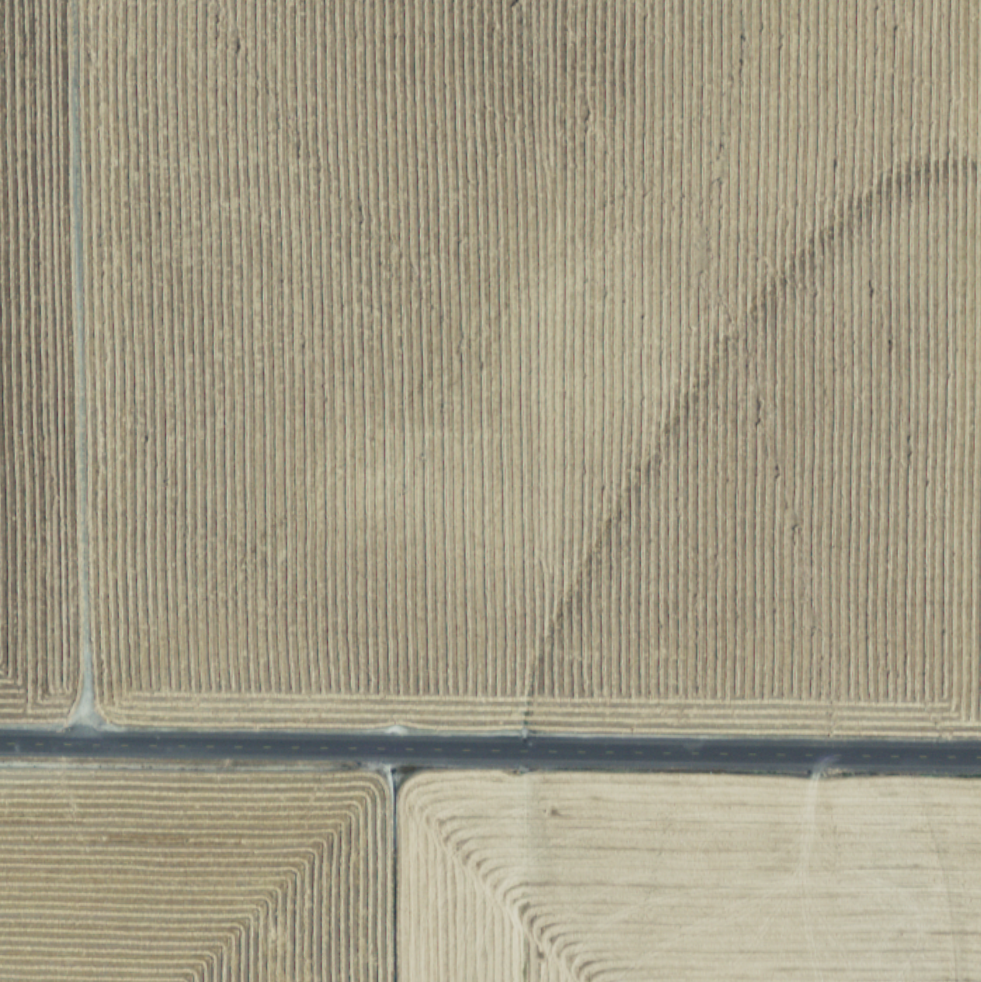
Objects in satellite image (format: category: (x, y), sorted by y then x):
crop: (492, 353)
road: (490, 746)
crop: (489, 891)

